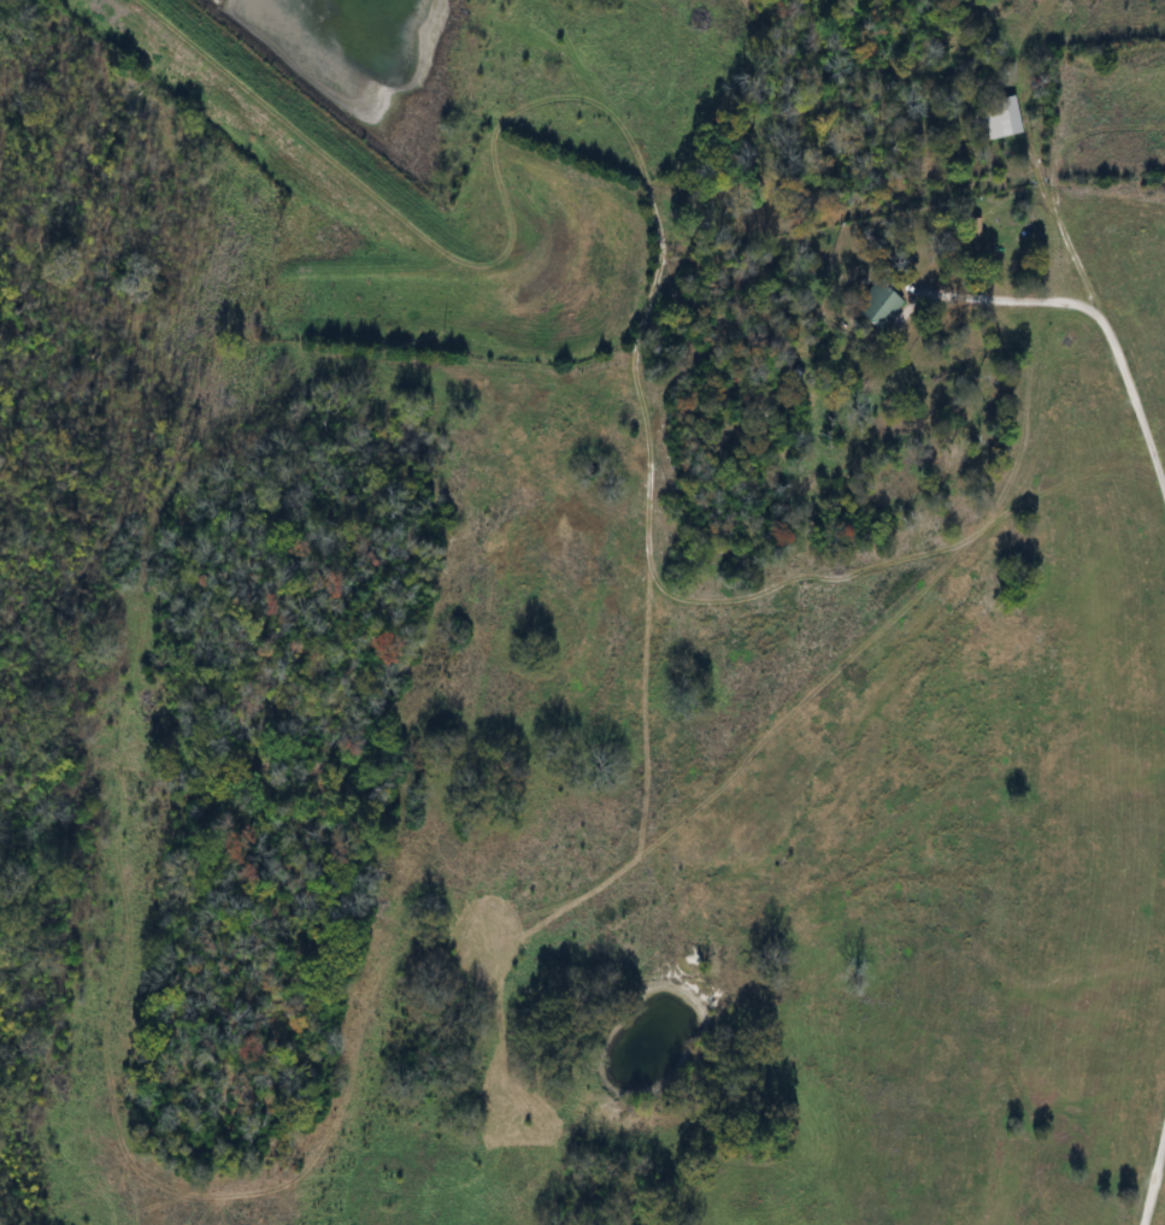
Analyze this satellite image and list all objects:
building: (998, 119)
road: (1012, 295)
building: (879, 305)
road: (1131, 401)
road: (1153, 1174)

